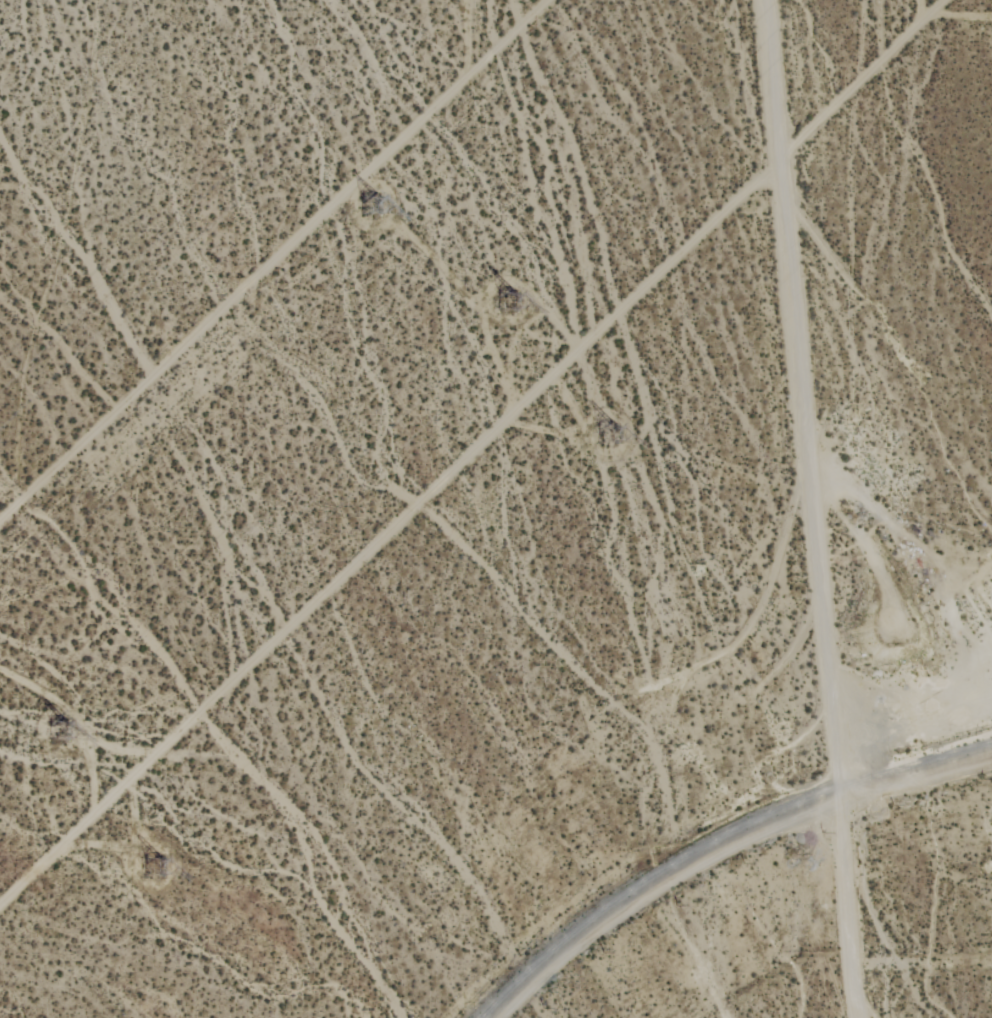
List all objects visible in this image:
power tower: (374, 198)
road: (276, 263)
power tower: (512, 305)
road: (802, 401)
power tower: (606, 440)
road: (472, 451)
power tower: (56, 733)
railway: (712, 839)
road: (725, 850)
power tower: (156, 865)
road: (845, 911)

